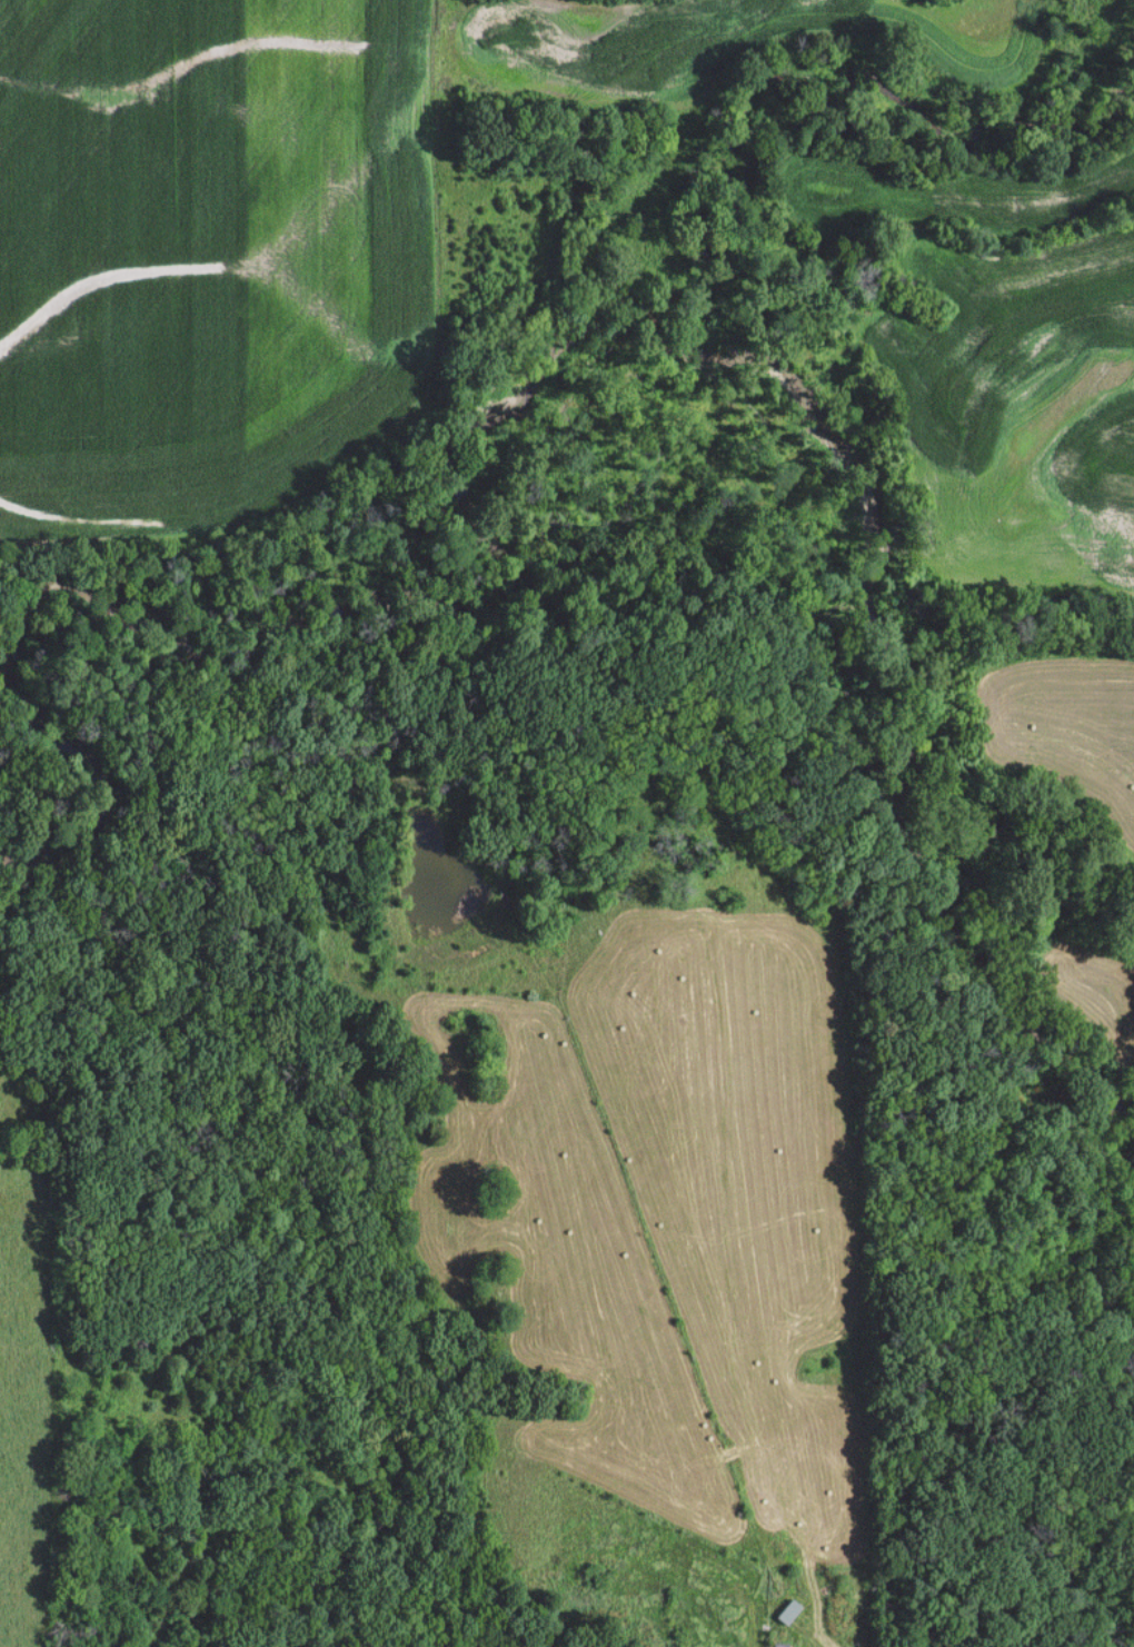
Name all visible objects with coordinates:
building: (785, 1611)

